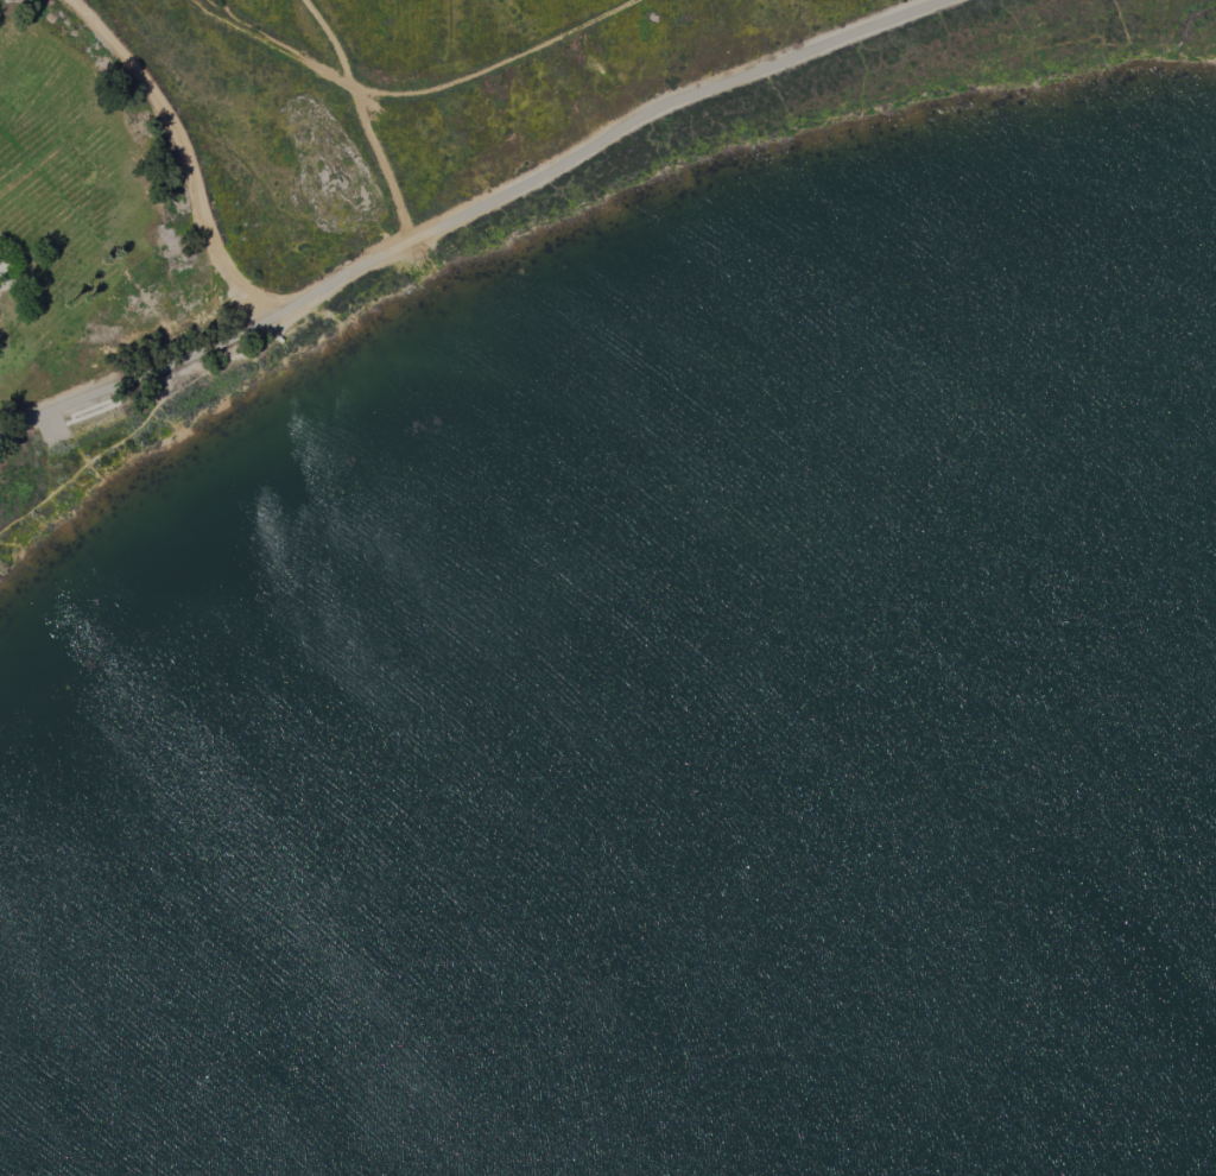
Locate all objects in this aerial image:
road: (493, 65)
road: (361, 120)
road: (185, 153)
road: (471, 213)

